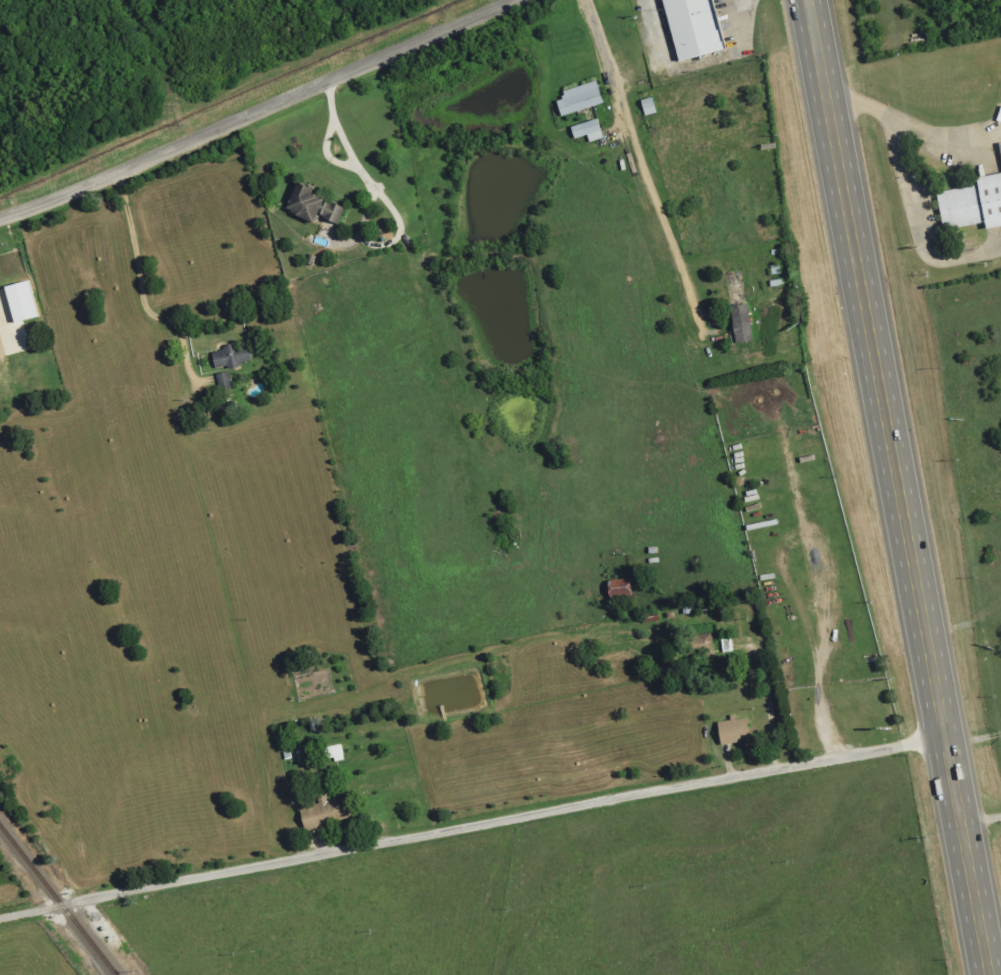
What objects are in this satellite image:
building: (693, 26)
building: (574, 98)
road: (257, 110)
building: (586, 130)
road: (914, 131)
road: (983, 161)
road: (362, 169)
road: (645, 172)
building: (310, 205)
road: (994, 209)
building: (973, 212)
road: (917, 230)
road: (140, 292)
building: (17, 302)
building: (741, 323)
building: (229, 356)
building: (223, 382)
road: (896, 487)
building: (617, 589)
building: (702, 646)
road: (819, 681)
building: (731, 730)
road: (973, 741)
building: (331, 753)
building: (302, 755)
building: (322, 814)
road: (980, 821)
road: (471, 828)
railway: (56, 902)

